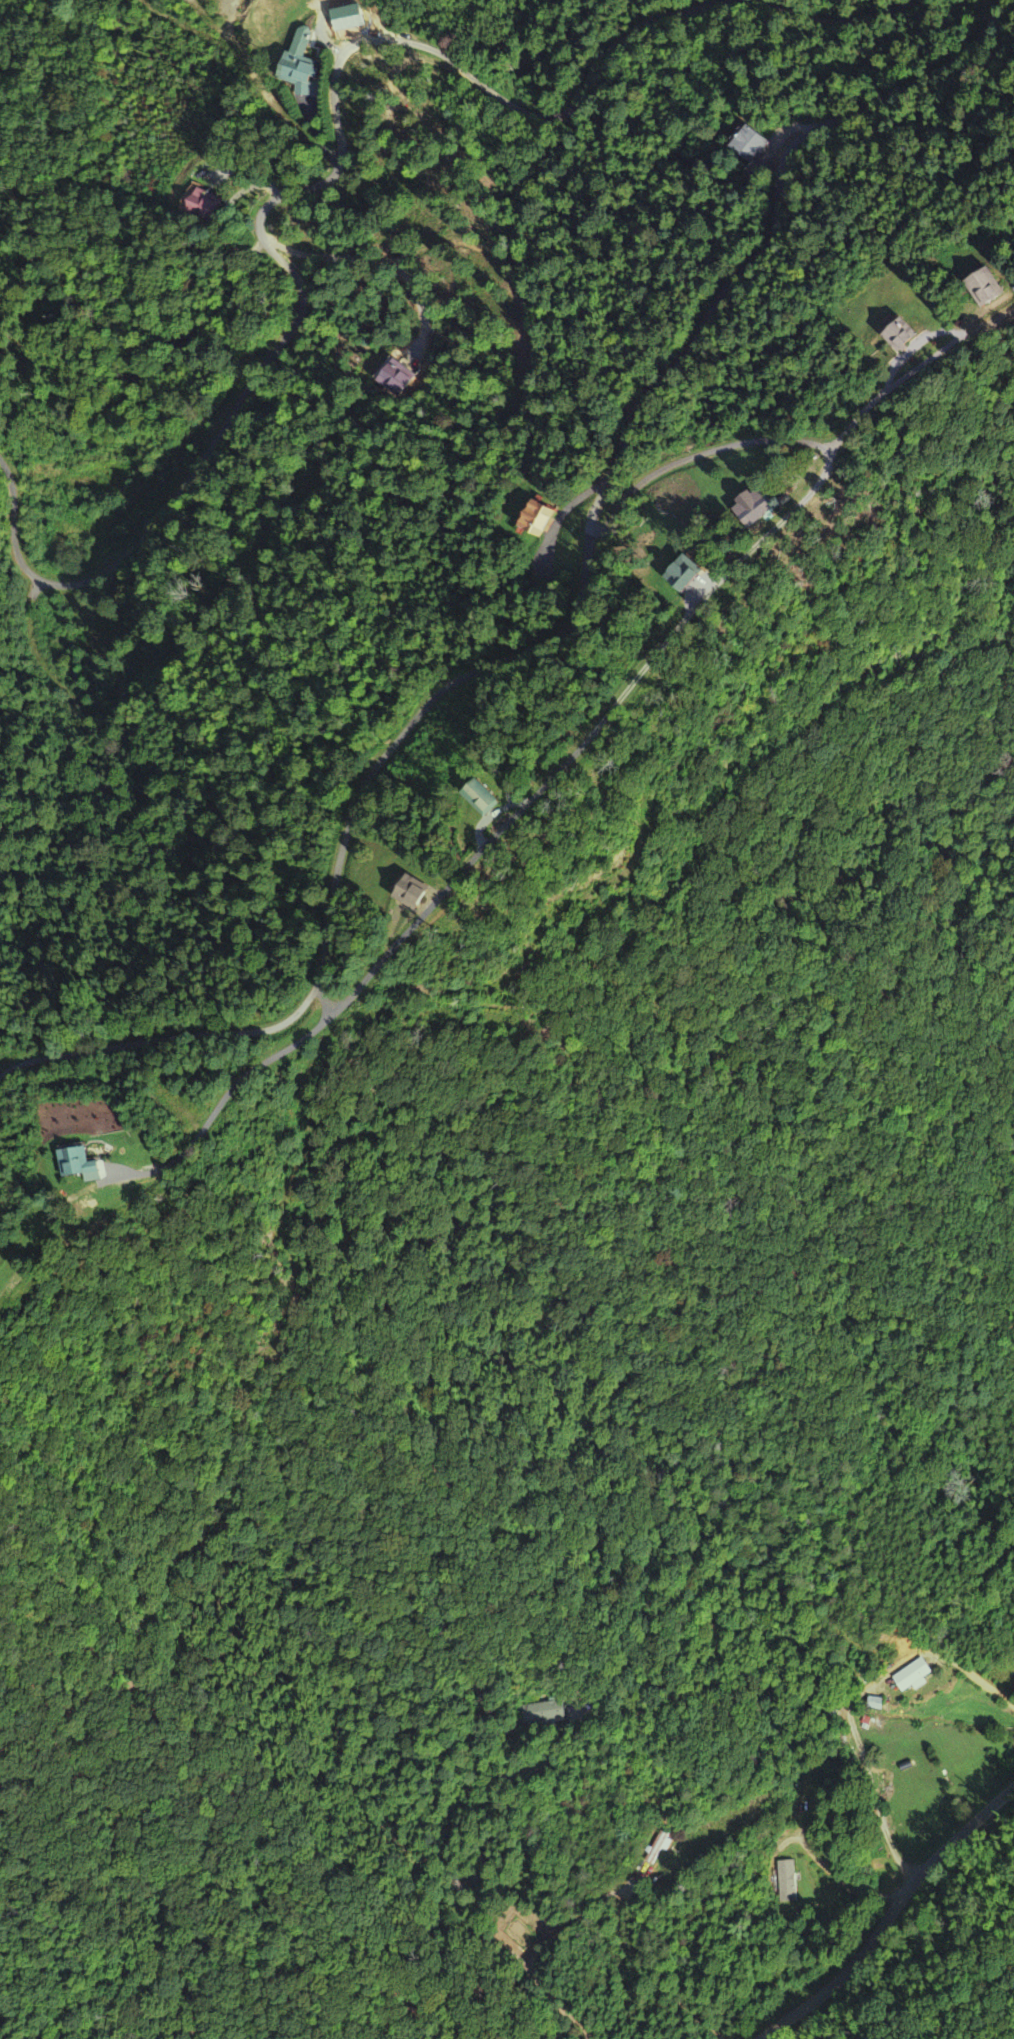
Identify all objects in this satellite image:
building: (302, 66)
road: (340, 154)
road: (772, 235)
building: (998, 290)
building: (912, 336)
building: (399, 377)
building: (769, 504)
building: (541, 522)
building: (701, 573)
road: (515, 656)
road: (640, 674)
building: (499, 796)
road: (350, 819)
road: (209, 1033)
building: (85, 1165)
building: (918, 1677)
building: (875, 1704)
building: (548, 1714)
building: (789, 1883)
road: (890, 1916)

